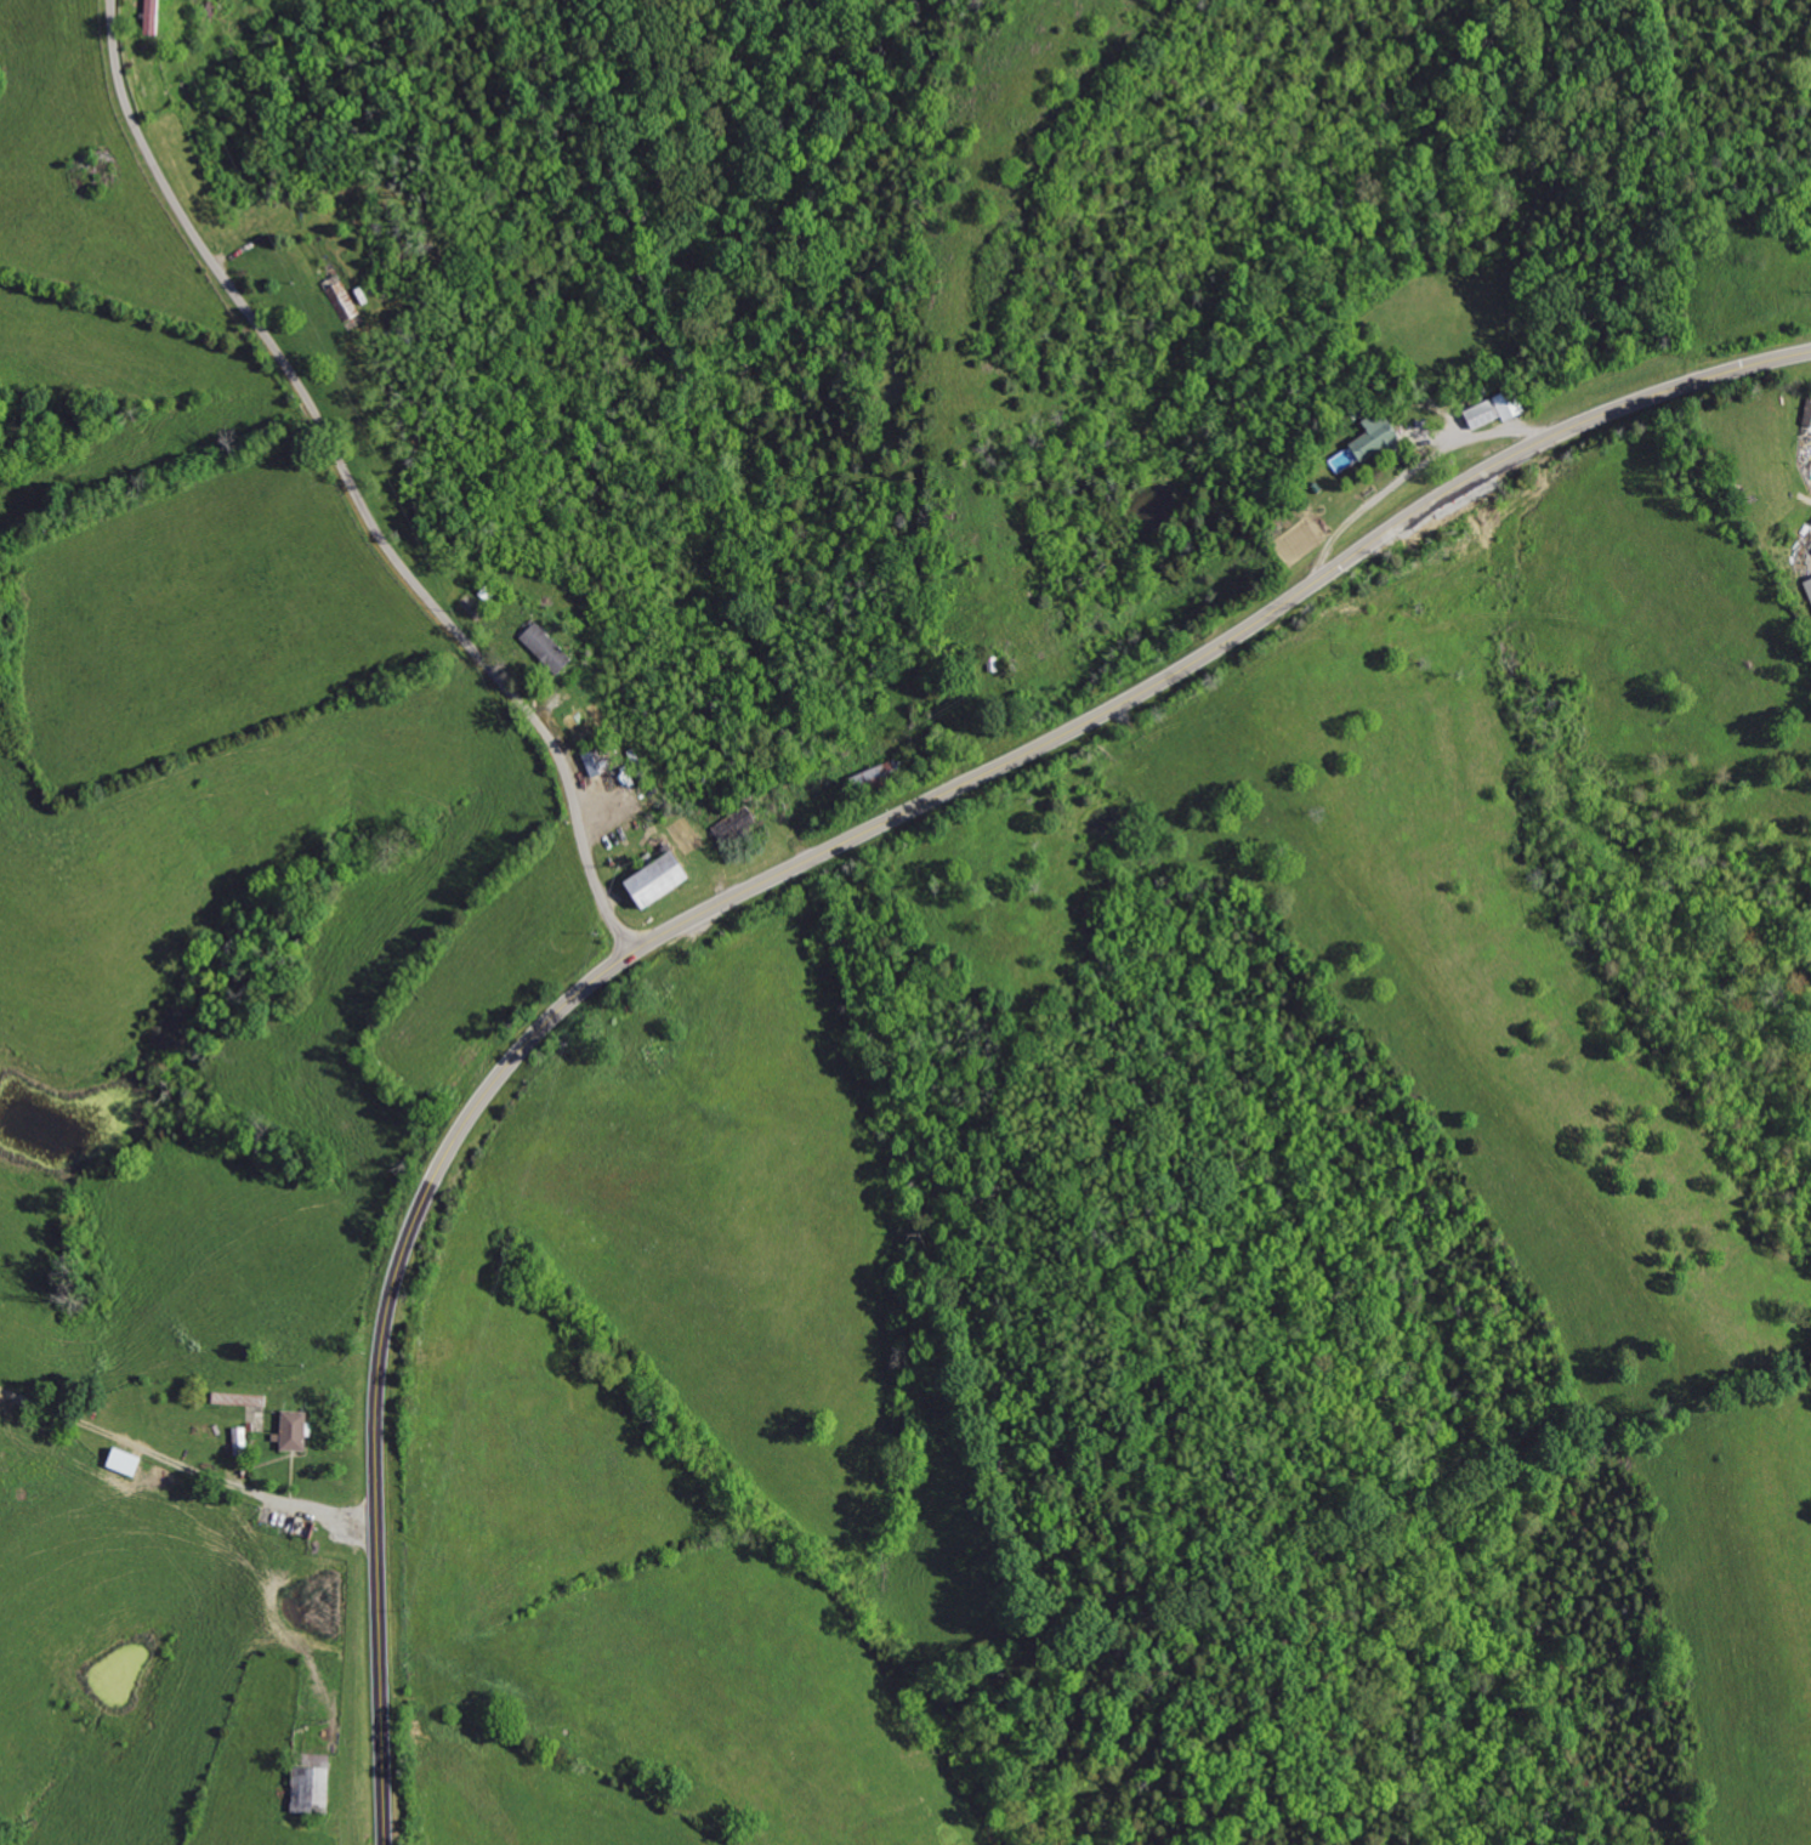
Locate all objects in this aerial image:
building: (155, 17)
building: (1497, 411)
building: (1810, 422)
building: (1380, 437)
road: (356, 487)
building: (1810, 585)
building: (550, 648)
road: (787, 872)
building: (665, 881)
building: (237, 1400)
building: (289, 1431)
building: (237, 1441)
building: (120, 1461)
road: (186, 1465)
building: (282, 1522)
building: (306, 1784)

